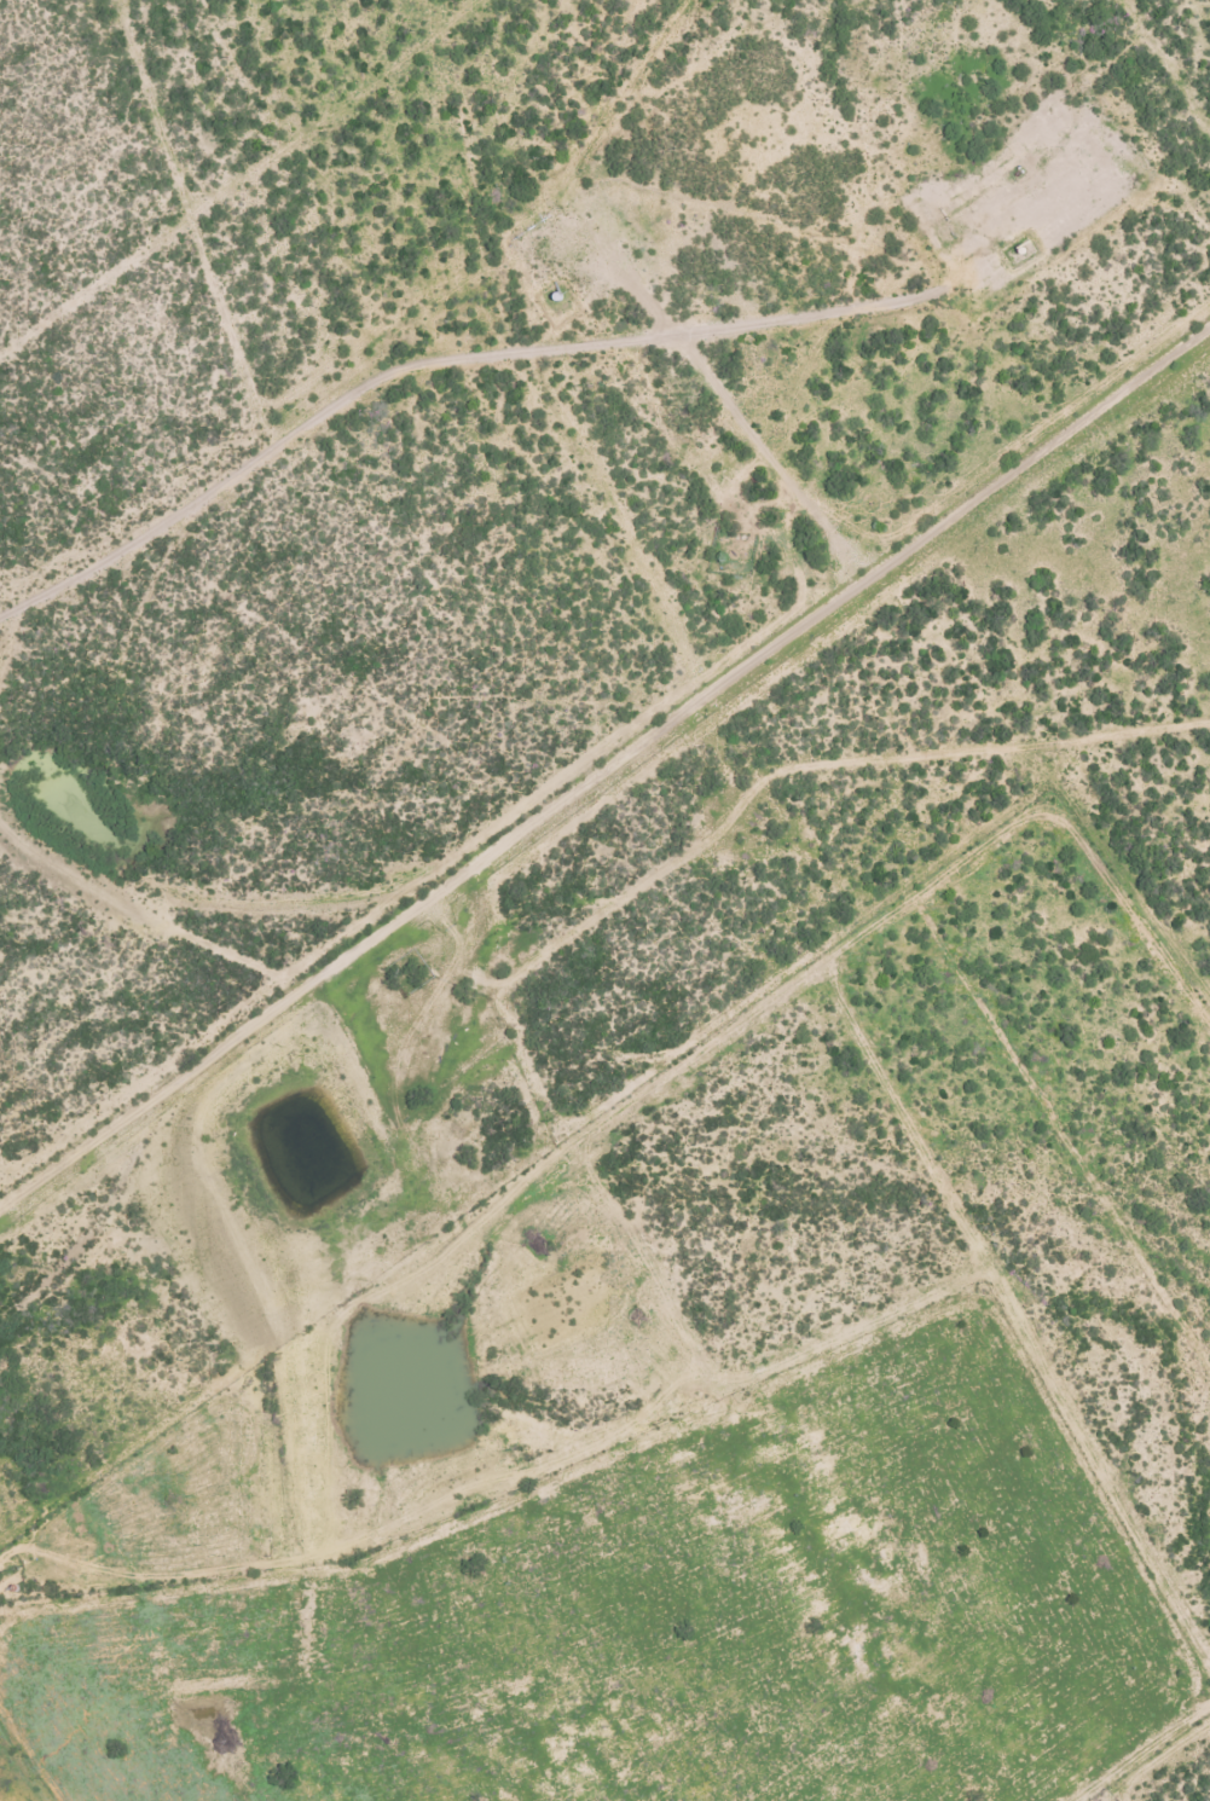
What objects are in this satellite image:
road: (604, 778)

